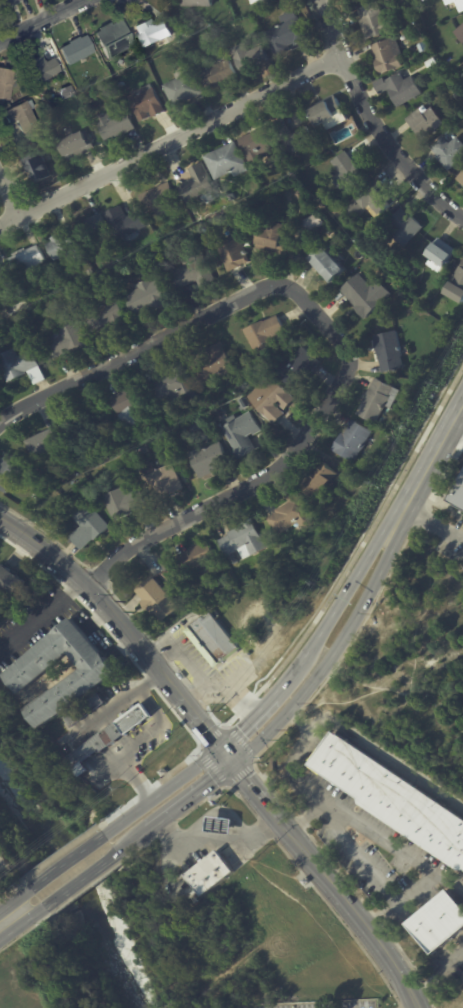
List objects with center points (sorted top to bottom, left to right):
building: (257, 0)
building: (352, 1)
building: (10, 3)
building: (199, 4)
building: (456, 4)
building: (261, 17)
road: (36, 18)
building: (369, 20)
building: (153, 32)
building: (459, 32)
building: (288, 34)
building: (254, 38)
building: (116, 40)
building: (177, 41)
building: (171, 46)
building: (422, 47)
building: (79, 51)
building: (385, 55)
building: (170, 56)
building: (255, 60)
building: (430, 62)
building: (45, 70)
building: (221, 76)
building: (6, 84)
building: (121, 85)
building: (187, 89)
building: (399, 90)
building: (150, 105)
building: (120, 111)
building: (328, 115)
building: (25, 118)
building: (423, 122)
road: (370, 123)
building: (118, 126)
building: (295, 137)
road: (168, 140)
building: (259, 144)
building: (79, 146)
building: (445, 151)
building: (229, 162)
building: (64, 165)
building: (39, 168)
building: (348, 173)
building: (460, 178)
building: (198, 184)
building: (302, 194)
building: (231, 197)
road: (8, 198)
building: (161, 199)
building: (377, 202)
building: (307, 208)
building: (242, 212)
building: (345, 212)
building: (188, 221)
building: (127, 222)
building: (318, 222)
building: (405, 227)
building: (98, 230)
building: (277, 236)
building: (152, 244)
building: (66, 249)
building: (234, 253)
building: (441, 256)
building: (28, 260)
building: (331, 264)
building: (361, 266)
building: (195, 271)
building: (88, 272)
building: (6, 276)
building: (457, 286)
building: (367, 296)
building: (147, 297)
road: (229, 304)
building: (14, 308)
building: (411, 308)
building: (103, 315)
building: (268, 334)
building: (66, 339)
building: (391, 352)
building: (215, 364)
building: (22, 365)
building: (300, 371)
building: (175, 388)
road: (42, 397)
building: (273, 399)
building: (380, 400)
building: (243, 404)
building: (130, 405)
road: (456, 434)
building: (242, 435)
building: (207, 436)
building: (355, 441)
building: (395, 441)
building: (48, 443)
building: (88, 443)
road: (438, 452)
building: (211, 461)
building: (11, 473)
road: (269, 473)
building: (166, 480)
building: (323, 480)
building: (457, 494)
building: (126, 503)
building: (296, 515)
road: (435, 525)
building: (90, 527)
building: (247, 543)
road: (113, 558)
building: (202, 560)
building: (168, 565)
building: (13, 584)
road: (342, 597)
building: (160, 600)
road: (41, 618)
road: (96, 621)
road: (312, 621)
road: (120, 630)
road: (95, 639)
building: (213, 639)
road: (340, 641)
road: (189, 665)
building: (81, 684)
road: (231, 691)
building: (90, 711)
road: (298, 719)
road: (247, 722)
road: (331, 722)
building: (113, 736)
traffic signals: (229, 754)
building: (162, 771)
building: (270, 780)
road: (255, 788)
road: (179, 792)
building: (216, 796)
building: (393, 798)
road: (220, 813)
building: (225, 827)
road: (126, 834)
road: (214, 839)
road: (391, 846)
road: (61, 853)
road: (360, 855)
road: (73, 873)
building: (213, 875)
road: (12, 888)
road: (398, 900)
road: (352, 912)
road: (12, 918)
building: (439, 921)
road: (435, 973)

